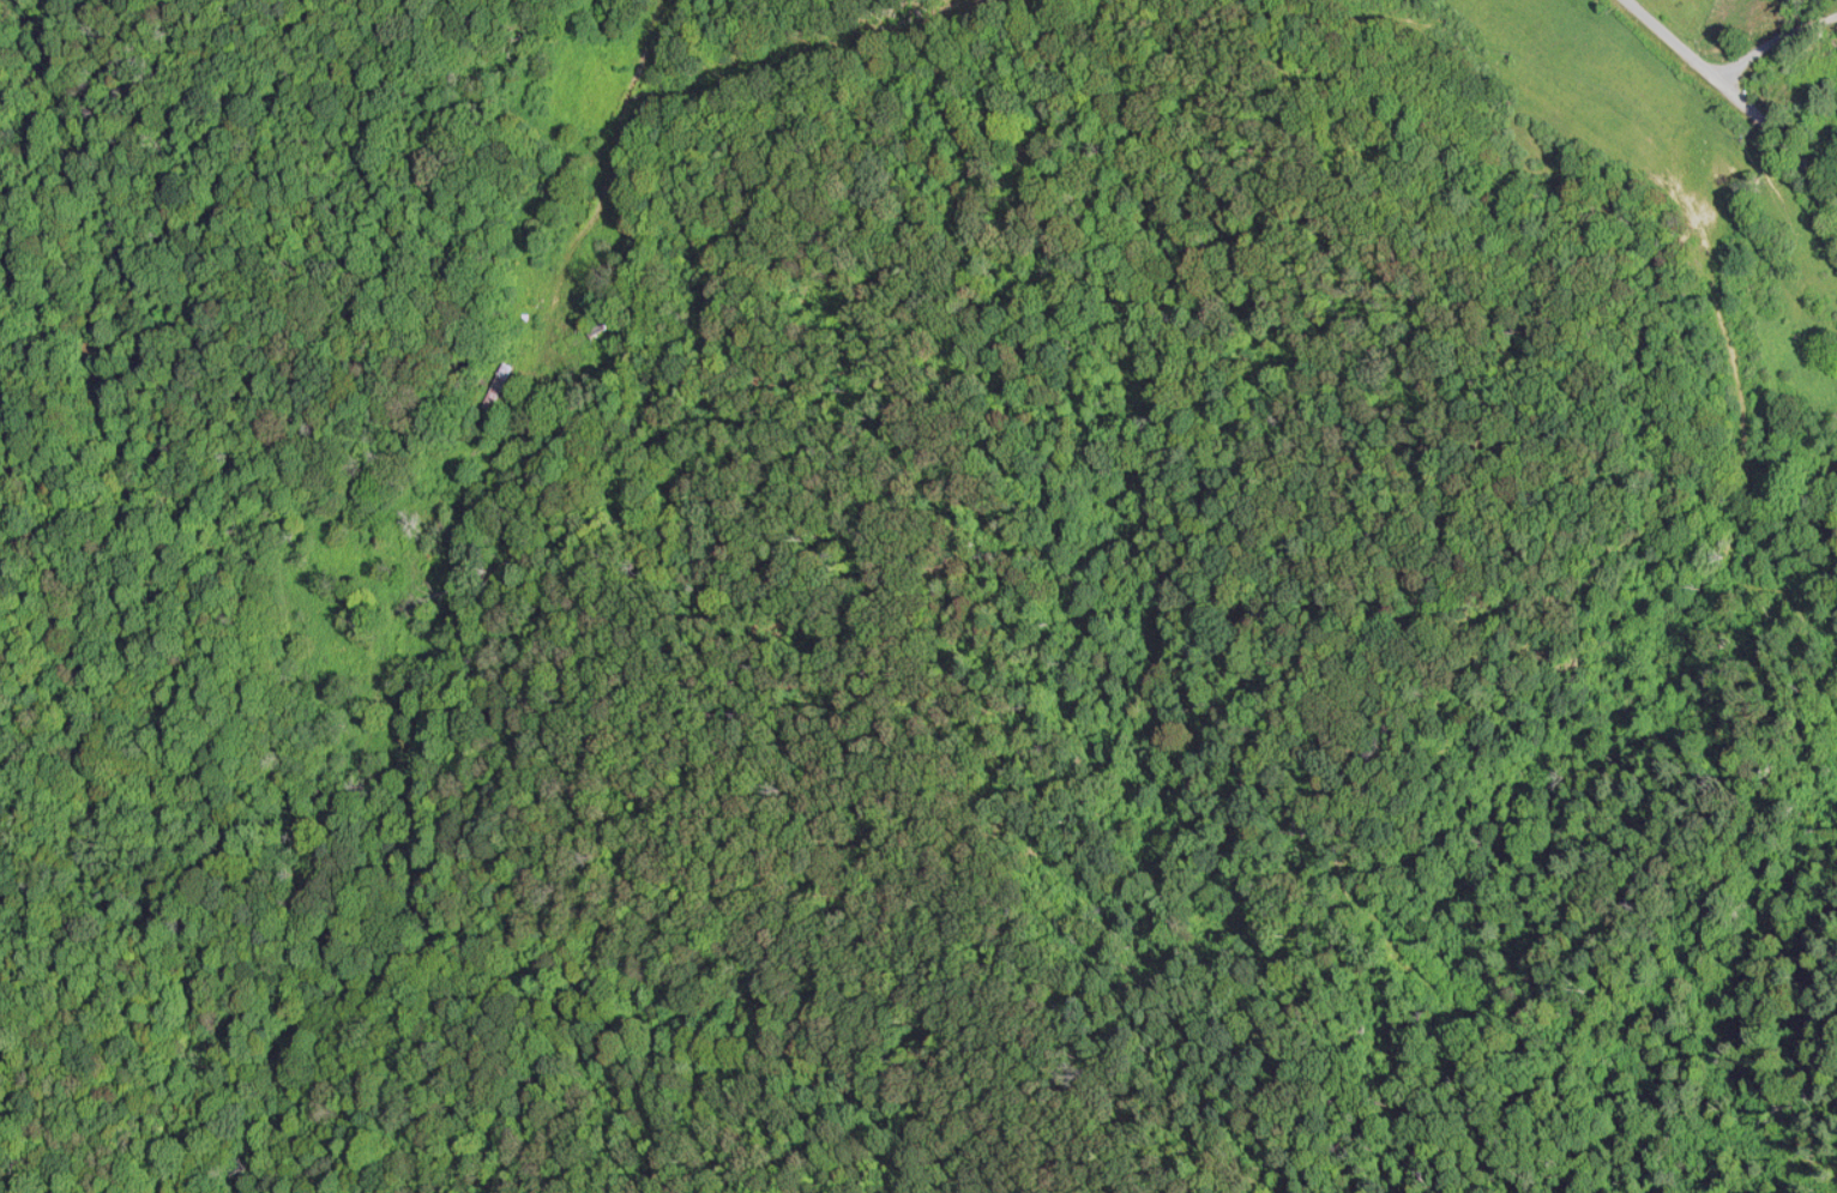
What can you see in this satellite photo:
road: (1779, 47)
road: (1739, 96)
road: (612, 152)
building: (594, 327)
building: (493, 387)

